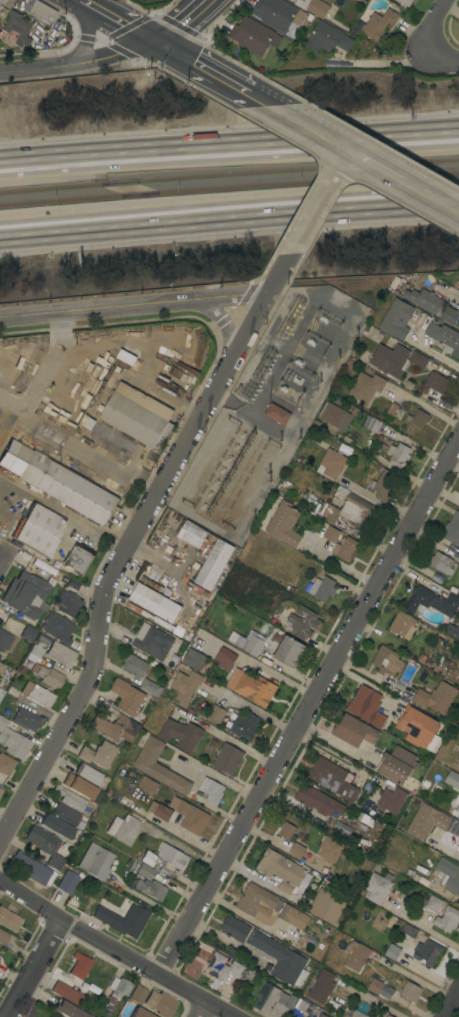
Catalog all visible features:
road: (84, 0)
building: (0, 1)
building: (404, 4)
building: (313, 6)
building: (41, 13)
building: (279, 15)
road: (118, 20)
road: (180, 22)
building: (458, 23)
building: (377, 25)
road: (436, 29)
building: (16, 30)
building: (253, 36)
building: (327, 38)
road: (438, 57)
road: (77, 62)
road: (197, 64)
road: (258, 97)
road: (311, 127)
road: (229, 148)
railway: (229, 173)
road: (404, 179)
railway: (229, 187)
road: (321, 201)
road: (229, 211)
road: (281, 274)
building: (423, 300)
road: (135, 307)
building: (449, 315)
building: (396, 319)
road: (224, 324)
building: (444, 338)
road: (437, 355)
building: (124, 357)
building: (395, 360)
road: (41, 379)
building: (72, 380)
building: (436, 382)
building: (293, 384)
building: (366, 387)
building: (391, 409)
power substation: (268, 410)
building: (353, 411)
building: (276, 414)
building: (137, 416)
building: (333, 418)
building: (418, 418)
building: (367, 421)
building: (375, 426)
building: (383, 447)
road: (77, 449)
building: (397, 455)
building: (331, 463)
building: (67, 480)
building: (383, 485)
road: (375, 500)
building: (458, 507)
road: (63, 511)
building: (349, 511)
building: (284, 524)
building: (452, 529)
building: (39, 530)
building: (192, 534)
building: (331, 534)
building: (345, 549)
building: (78, 560)
road: (116, 562)
road: (3, 563)
building: (442, 563)
building: (213, 565)
road: (338, 566)
building: (436, 577)
building: (195, 587)
building: (321, 588)
building: (25, 594)
building: (154, 602)
building: (431, 602)
building: (68, 604)
building: (138, 609)
building: (302, 623)
building: (402, 625)
building: (57, 627)
building: (451, 632)
building: (28, 634)
building: (5, 640)
building: (239, 641)
building: (152, 642)
building: (253, 646)
building: (35, 651)
building: (288, 651)
building: (60, 654)
building: (193, 658)
building: (224, 659)
building: (386, 661)
road: (259, 664)
building: (134, 666)
building: (1, 667)
building: (7, 675)
building: (47, 676)
building: (150, 687)
building: (185, 687)
building: (251, 687)
building: (1, 693)
building: (37, 694)
building: (126, 697)
building: (436, 698)
road: (301, 702)
building: (366, 706)
building: (215, 714)
building: (26, 720)
building: (243, 726)
building: (115, 727)
building: (418, 728)
building: (353, 731)
building: (180, 735)
building: (13, 742)
building: (97, 754)
building: (227, 759)
building: (6, 764)
building: (396, 765)
building: (158, 767)
road: (210, 774)
building: (89, 775)
building: (332, 779)
building: (451, 780)
building: (147, 785)
building: (0, 788)
building: (82, 788)
building: (436, 789)
building: (211, 790)
building: (1, 791)
building: (73, 800)
building: (390, 800)
building: (318, 801)
building: (455, 806)
building: (160, 811)
building: (67, 816)
building: (189, 816)
building: (426, 822)
building: (56, 827)
building: (454, 828)
building: (123, 829)
building: (285, 832)
road: (176, 833)
building: (45, 845)
building: (329, 849)
building: (296, 851)
road: (456, 858)
building: (148, 859)
building: (170, 859)
building: (95, 862)
building: (32, 869)
building: (281, 870)
building: (144, 871)
building: (448, 875)
building: (68, 882)
building: (376, 888)
building: (151, 889)
building: (432, 905)
building: (327, 906)
building: (268, 907)
building: (447, 919)
building: (9, 920)
building: (121, 921)
building: (234, 929)
building: (408, 931)
building: (3, 938)
road: (114, 952)
building: (392, 952)
building: (427, 952)
building: (355, 955)
building: (280, 959)
building: (79, 965)
building: (216, 968)
road: (33, 969)
building: (235, 969)
building: (321, 986)
building: (374, 986)
building: (60, 989)
building: (117, 991)
building: (410, 991)
building: (385, 992)
building: (138, 995)
building: (268, 999)
road: (376, 1000)
building: (290, 1001)
road: (450, 1002)
building: (160, 1003)
building: (301, 1005)
building: (67, 1010)
road: (201, 1010)
building: (138, 1013)
building: (357, 1014)
building: (321, 1015)
building: (53, 1016)
building: (54, 1016)
building: (389, 1016)

